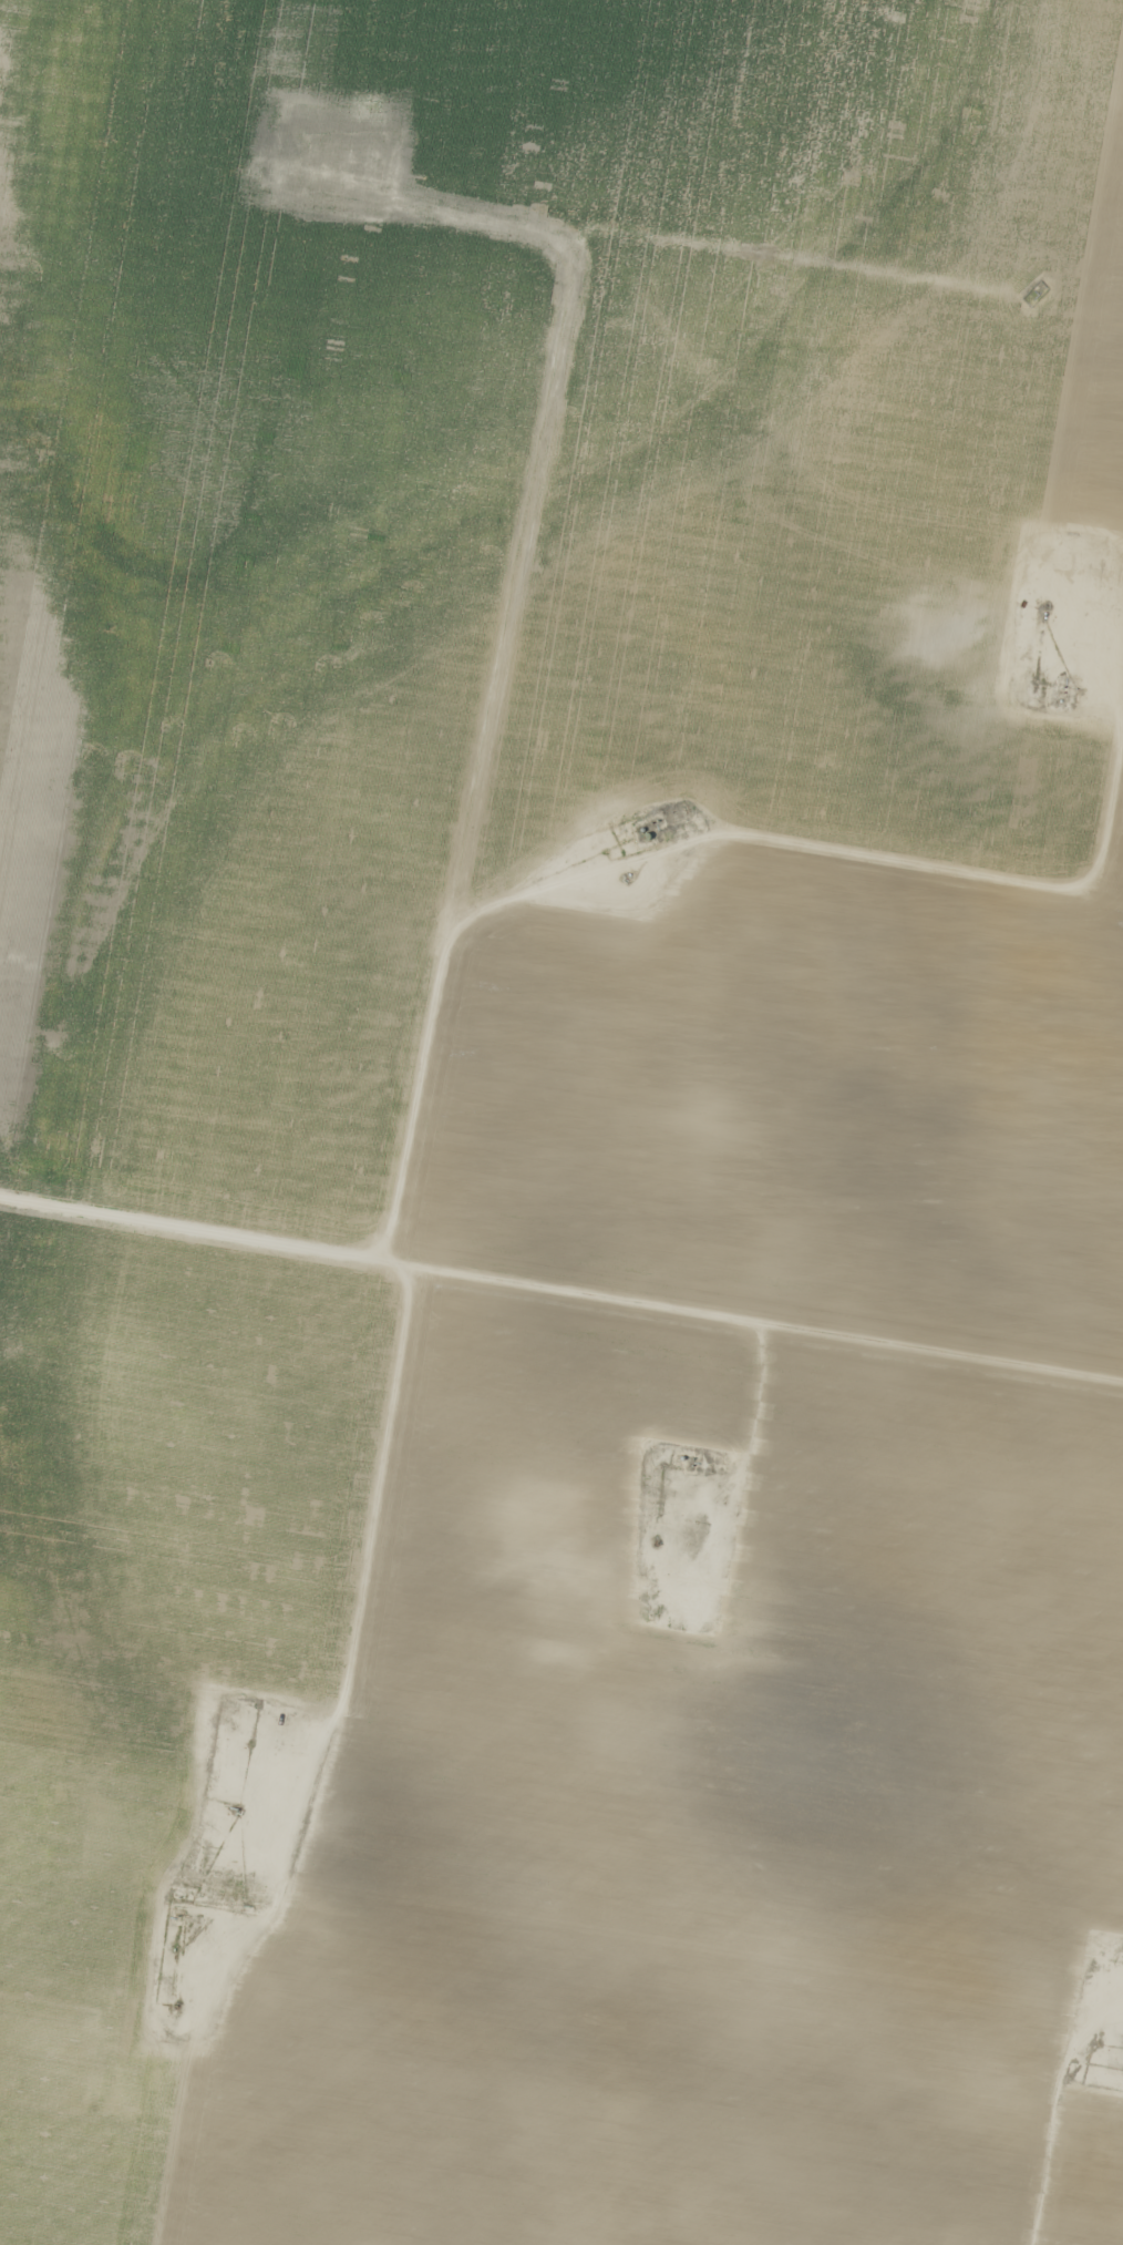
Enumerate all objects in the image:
road: (561, 1288)

